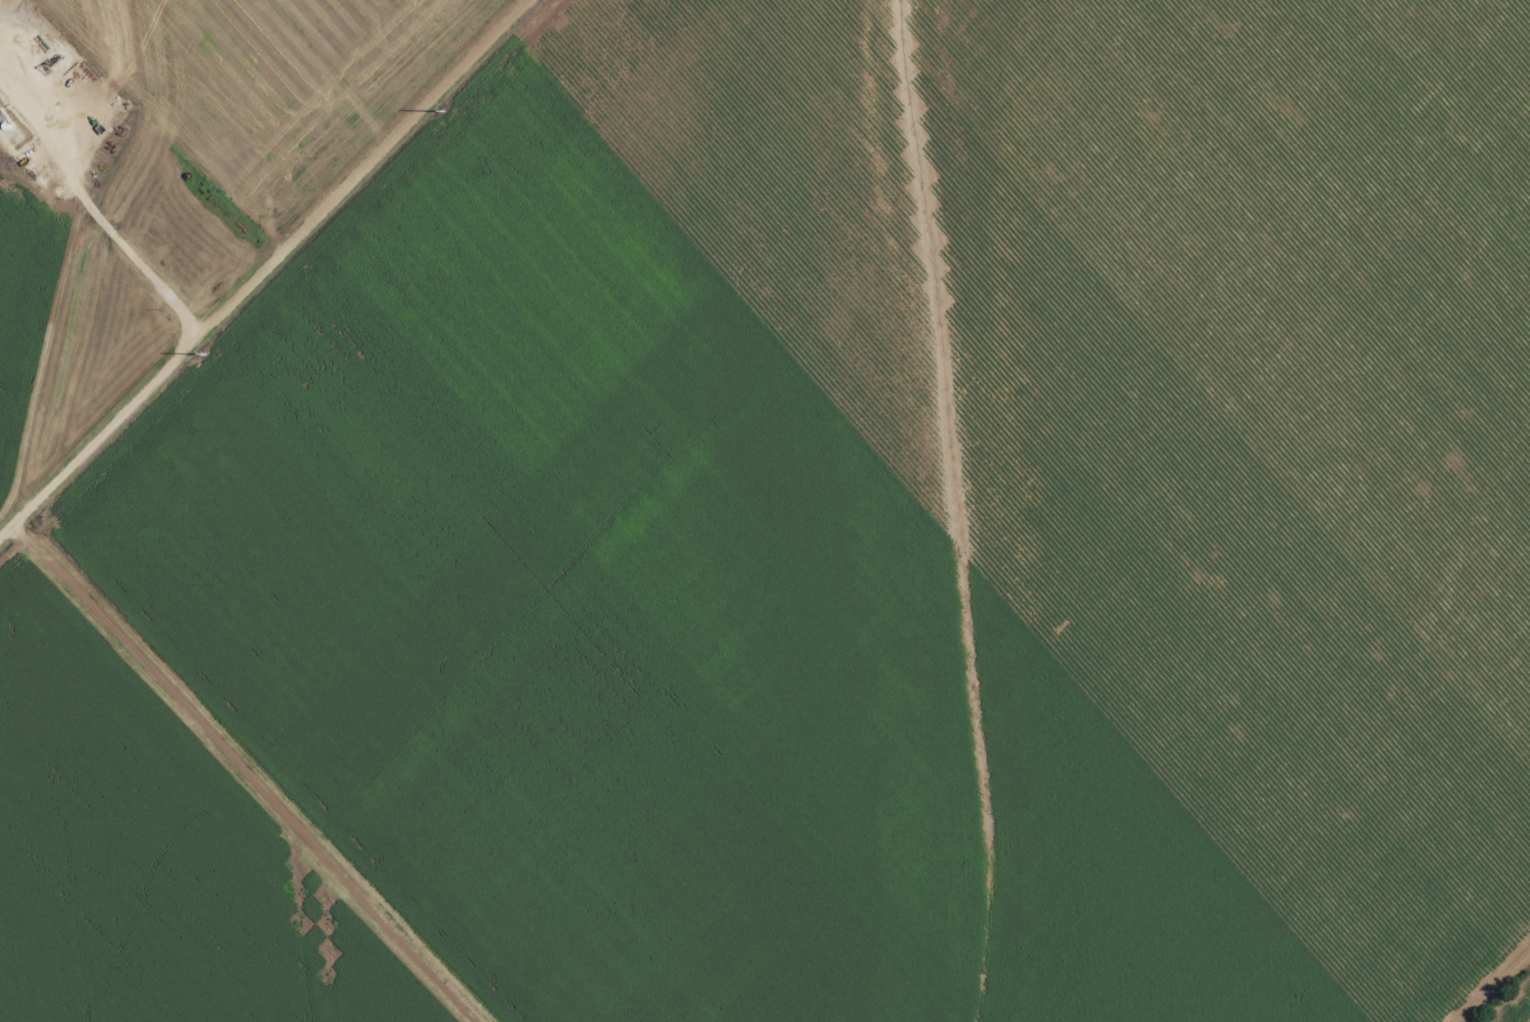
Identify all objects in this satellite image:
power tower: (445, 112)
road: (263, 271)
power tower: (206, 354)

